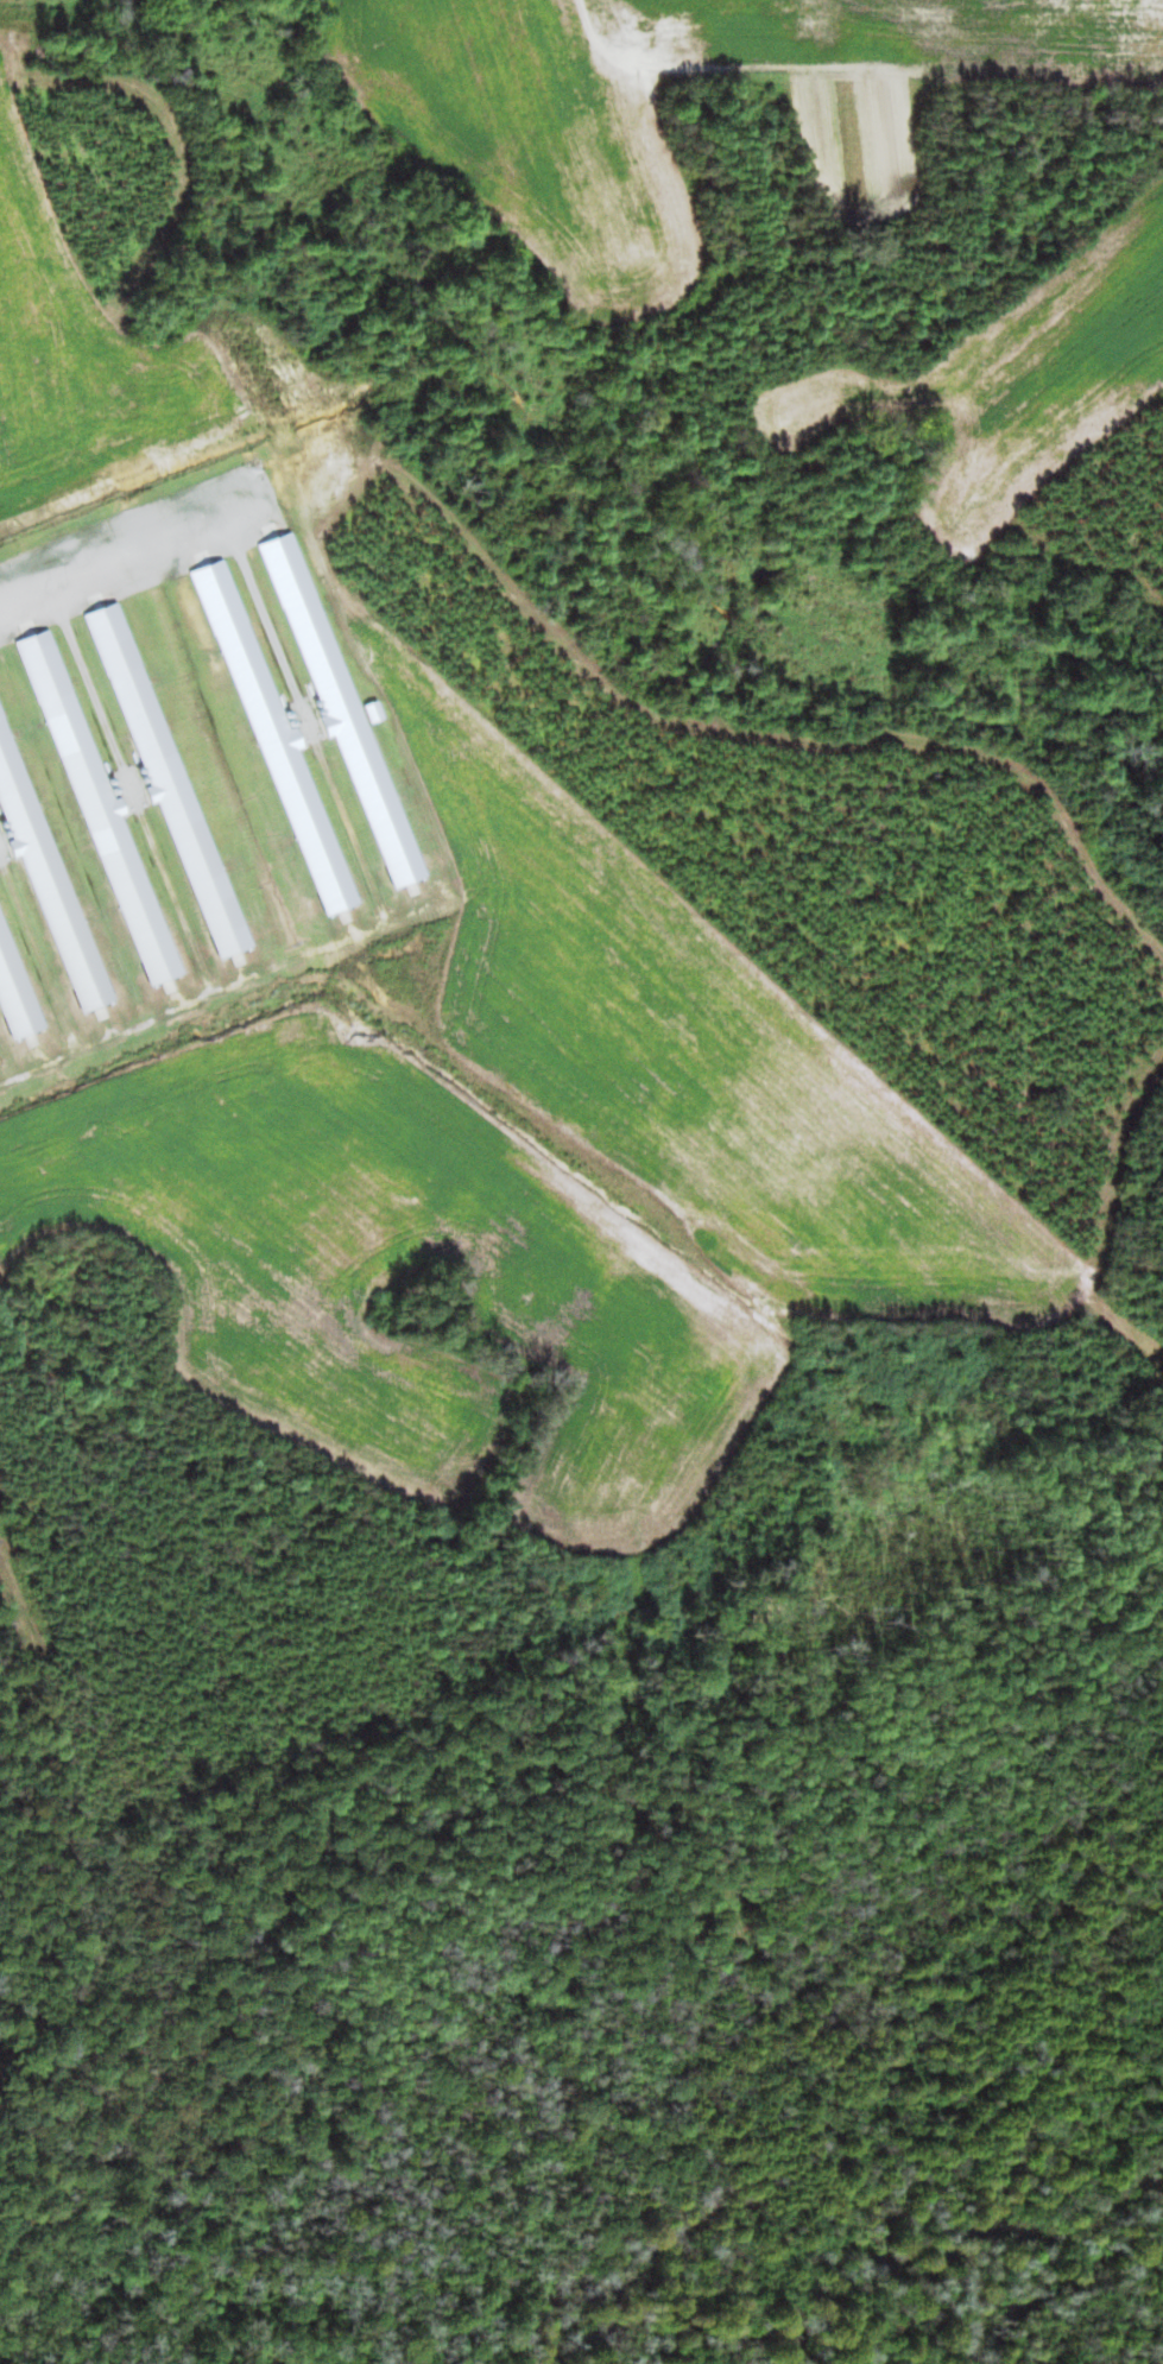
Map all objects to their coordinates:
road: (1055, 49)

